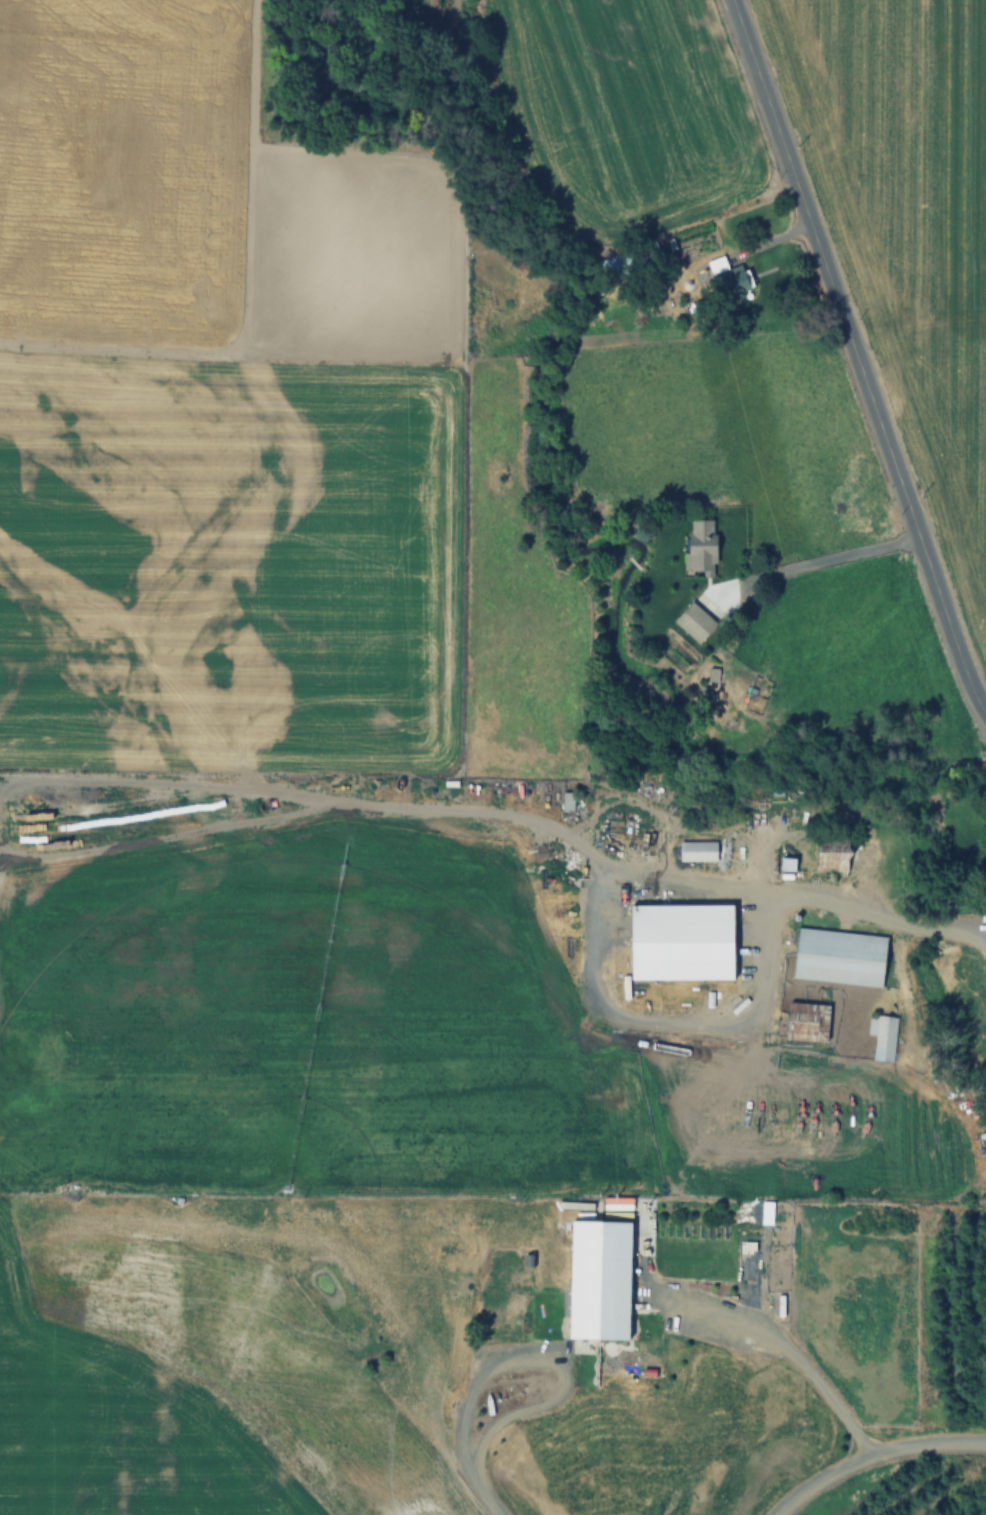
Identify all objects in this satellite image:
road: (857, 358)

